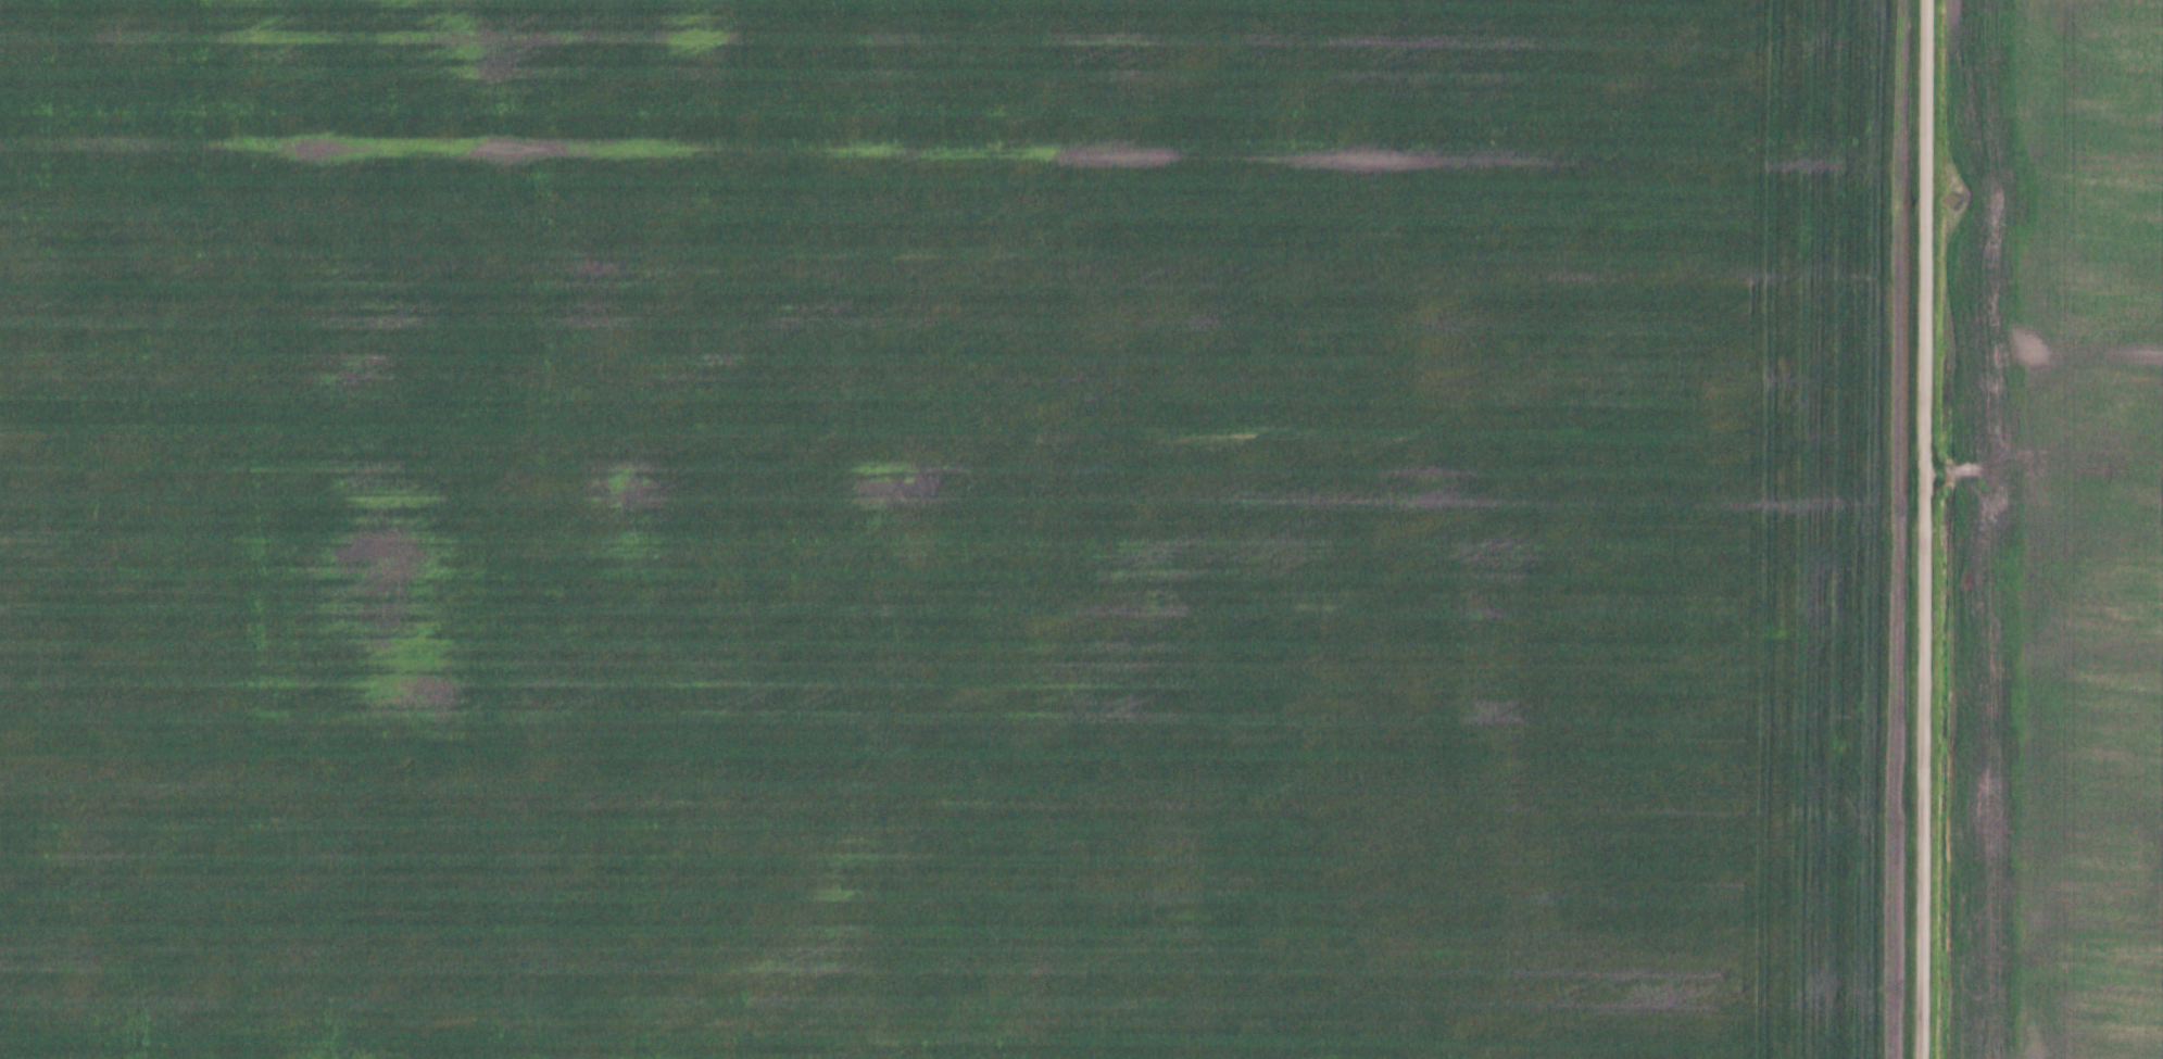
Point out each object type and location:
road: (1926, 529)

